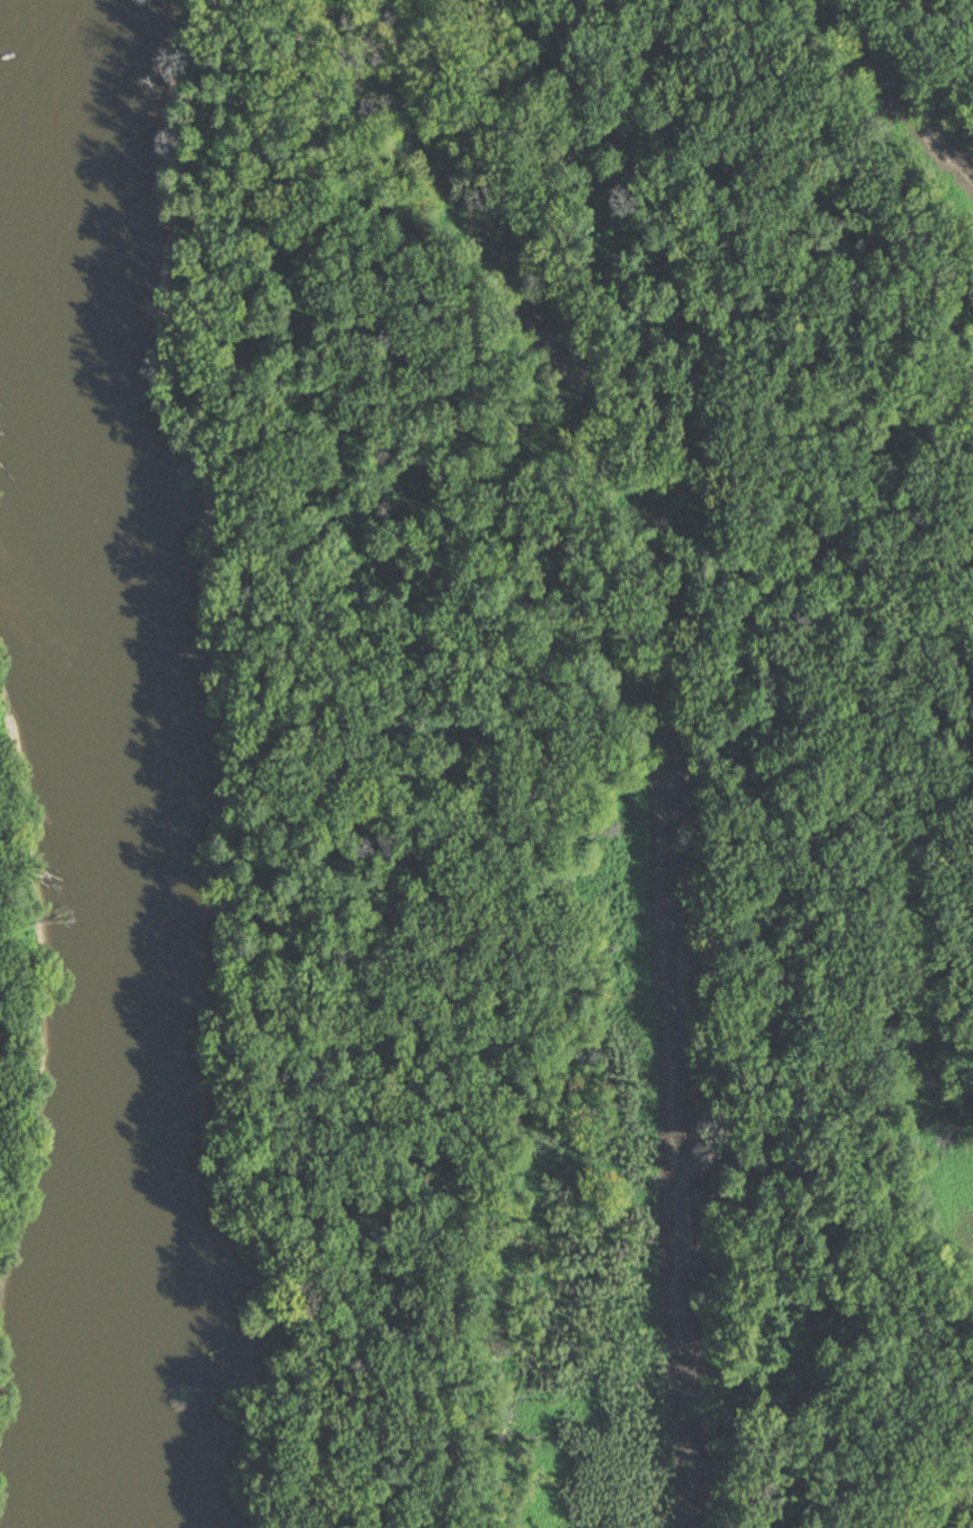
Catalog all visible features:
road: (746, 746)

